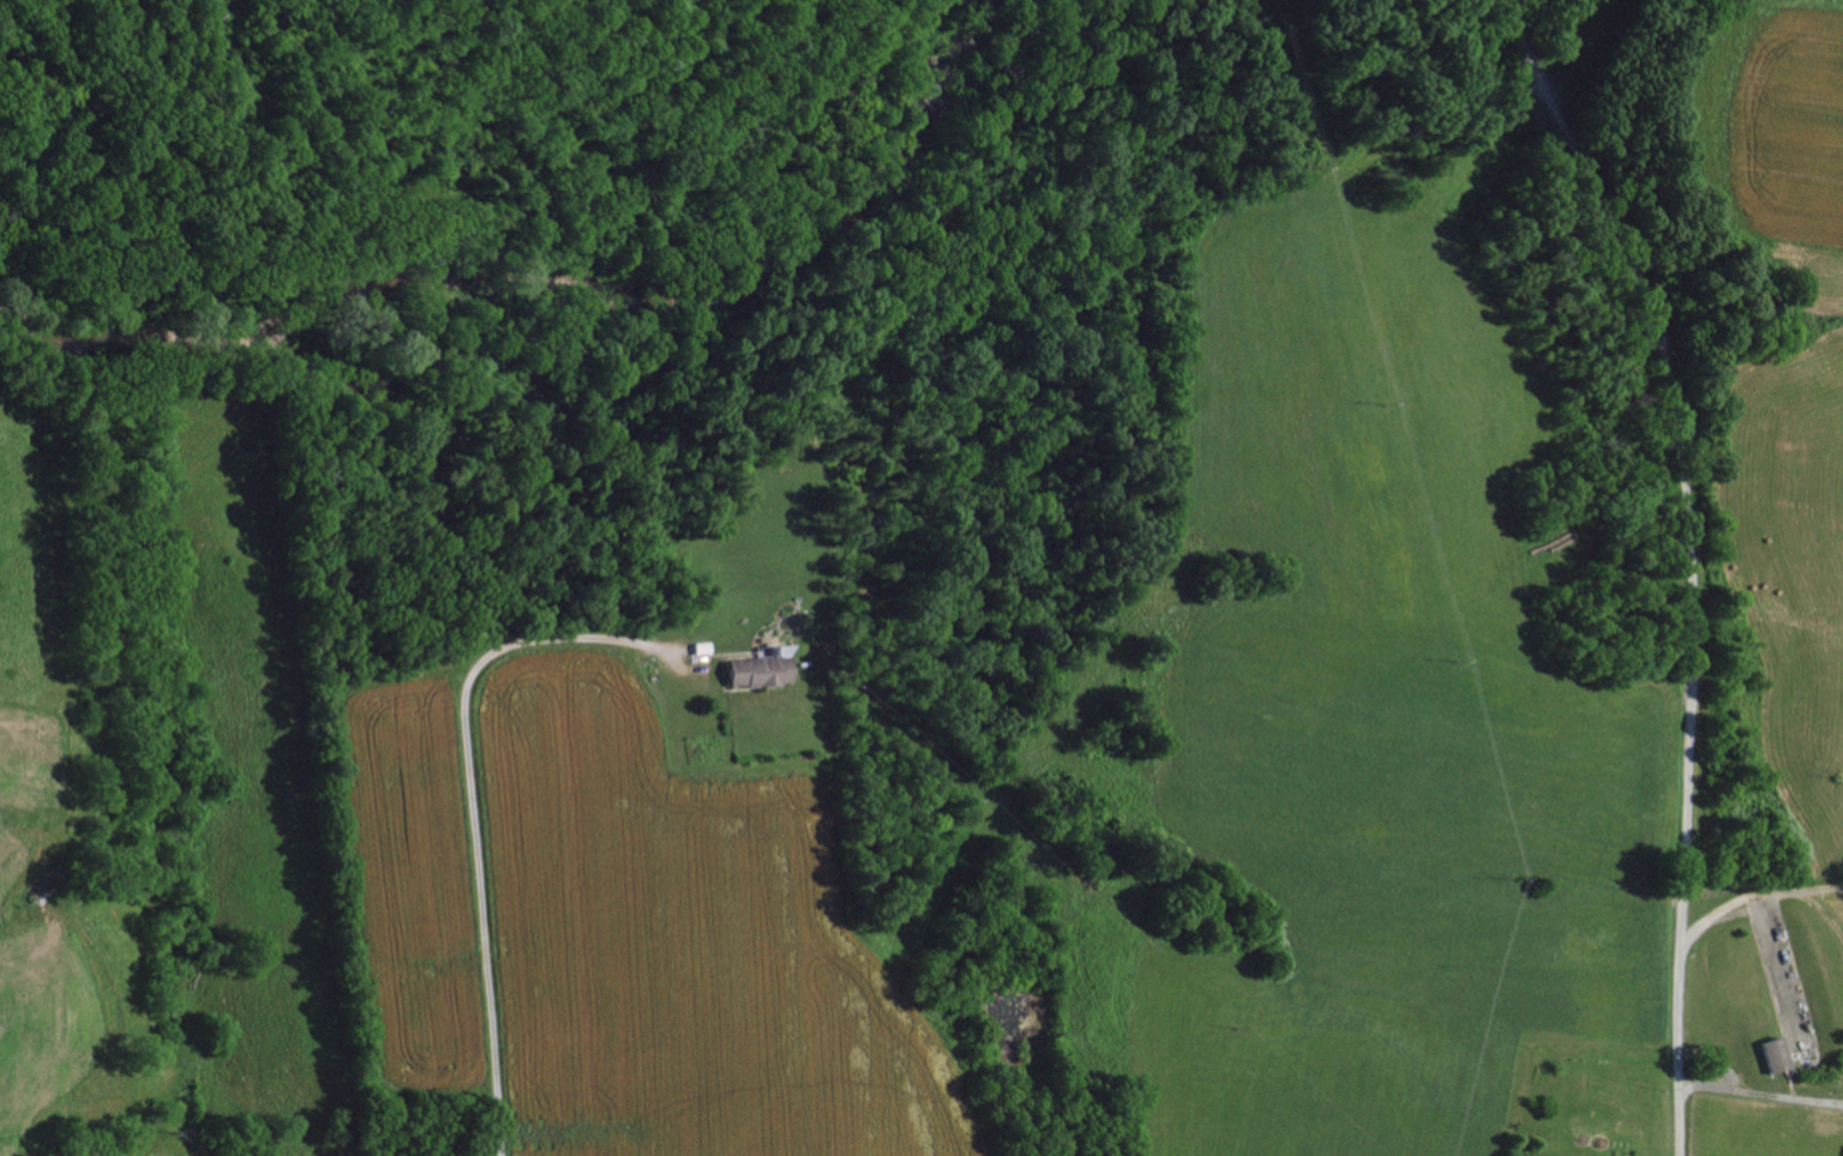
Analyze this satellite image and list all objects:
road: (1693, 560)
building: (758, 667)
road: (473, 802)
road: (1764, 891)
road: (1820, 913)
building: (1772, 1053)
road: (1761, 1095)

